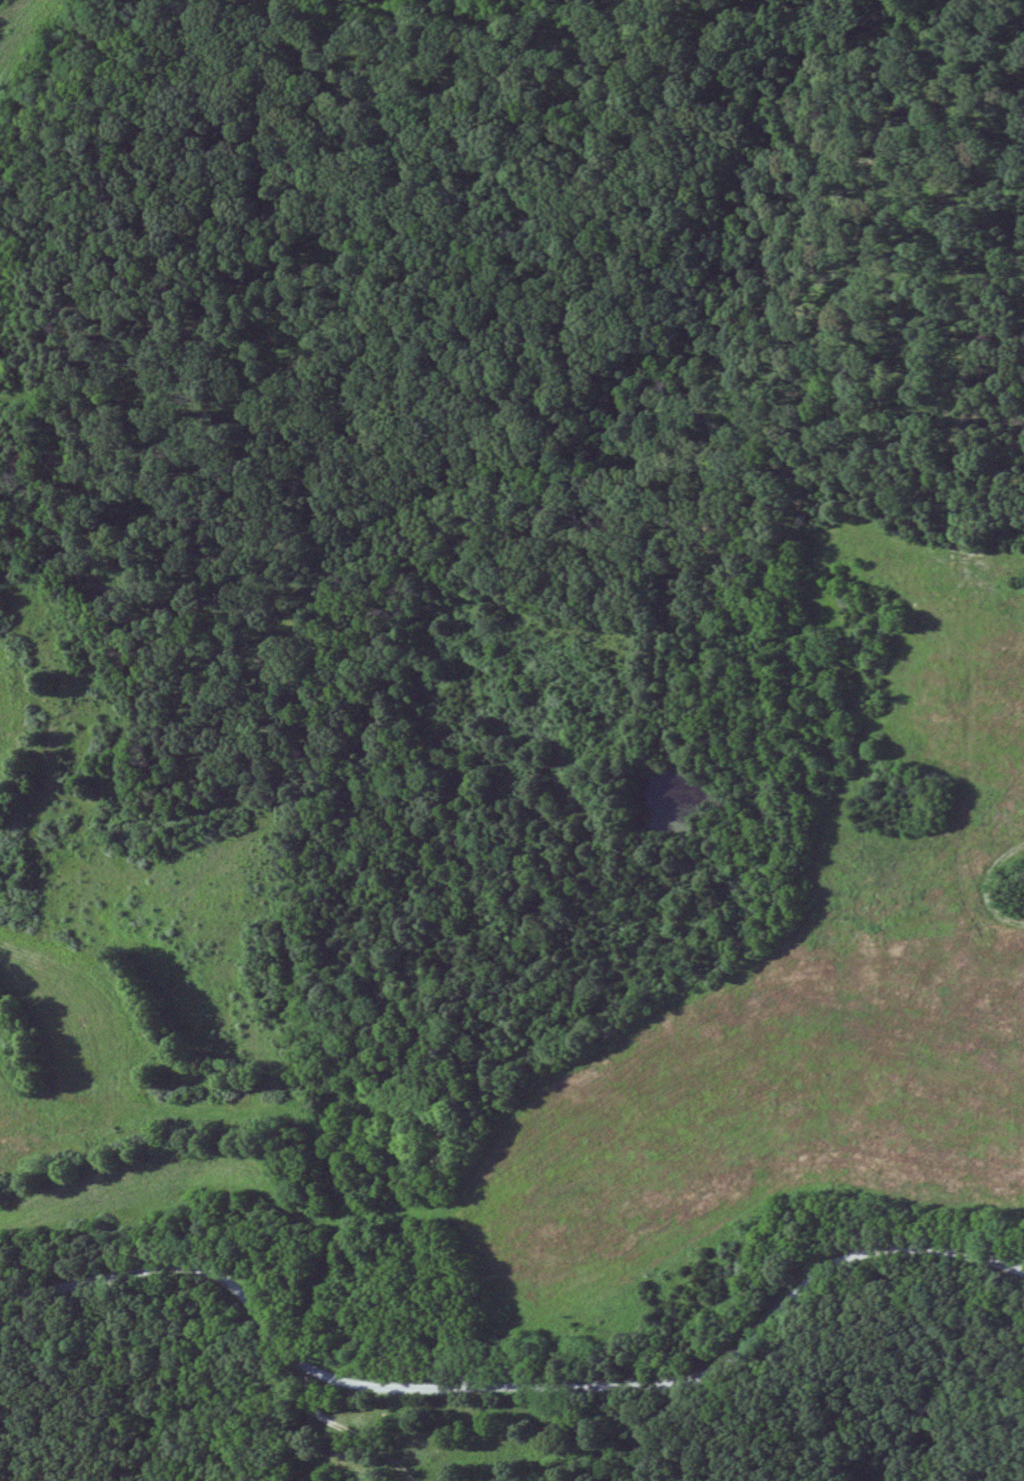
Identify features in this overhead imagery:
road: (516, 1382)
road: (342, 1429)

